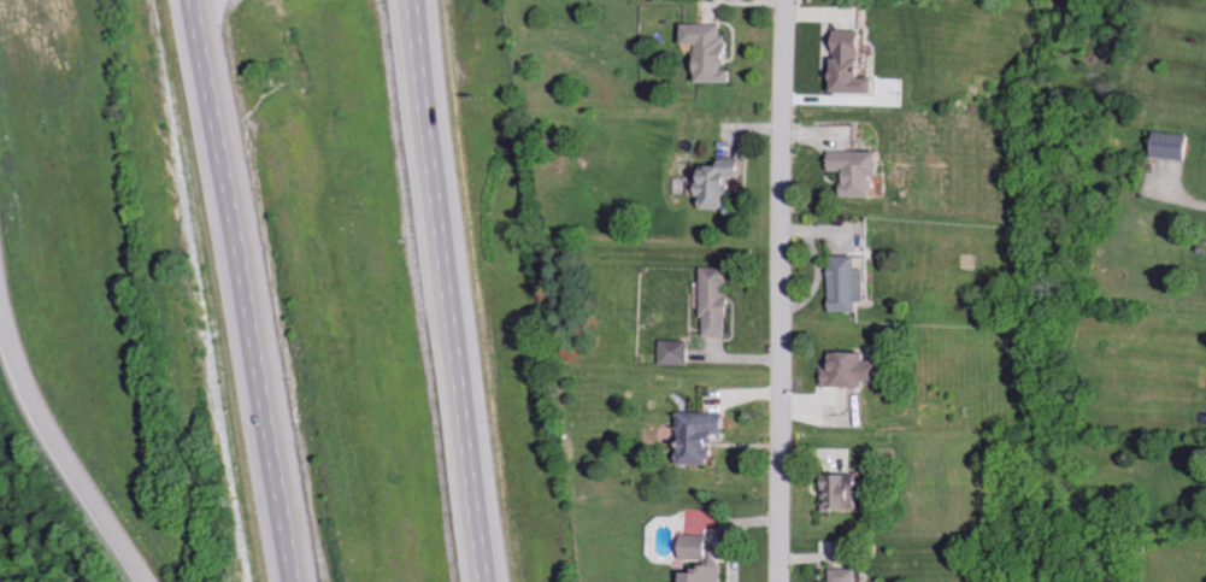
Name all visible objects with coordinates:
building: (714, 51)
building: (860, 63)
building: (1175, 145)
building: (866, 170)
building: (725, 183)
building: (854, 283)
road: (243, 290)
road: (451, 290)
road: (780, 290)
building: (719, 301)
building: (678, 352)
building: (858, 370)
road: (58, 430)
building: (705, 436)
building: (849, 492)
building: (701, 547)
building: (708, 574)

